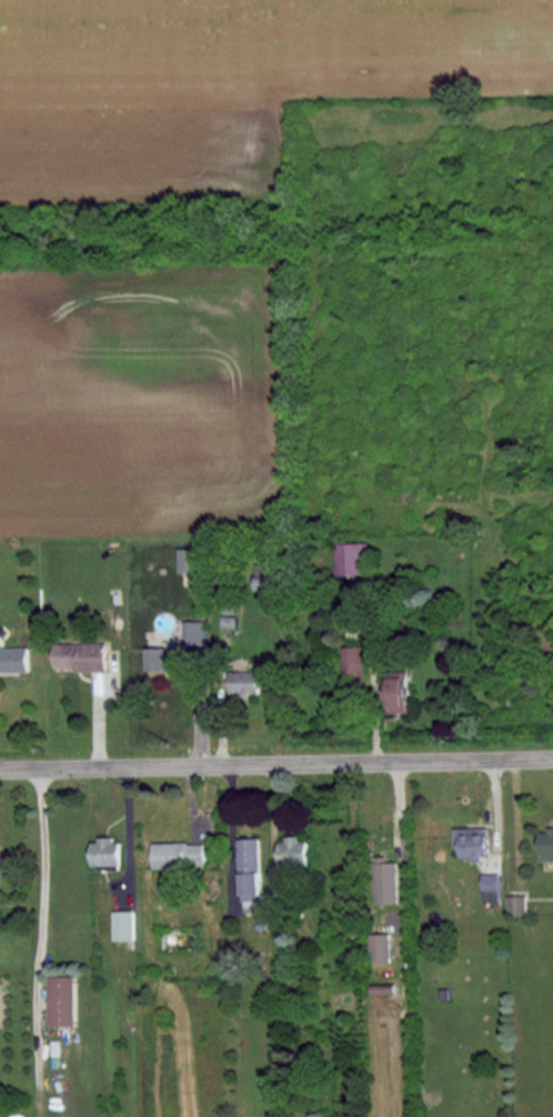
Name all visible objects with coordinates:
building: (351, 557)
building: (185, 560)
building: (264, 577)
building: (227, 622)
building: (192, 632)
building: (80, 655)
building: (163, 657)
building: (14, 658)
building: (352, 660)
building: (244, 682)
building: (398, 694)
road: (275, 759)
road: (273, 823)
road: (128, 828)
road: (231, 834)
building: (474, 842)
building: (546, 845)
building: (107, 852)
building: (294, 852)
building: (179, 854)
building: (0, 871)
building: (251, 873)
building: (386, 880)
building: (492, 886)
road: (36, 890)
building: (517, 904)
building: (123, 924)
building: (380, 947)
building: (63, 1000)

